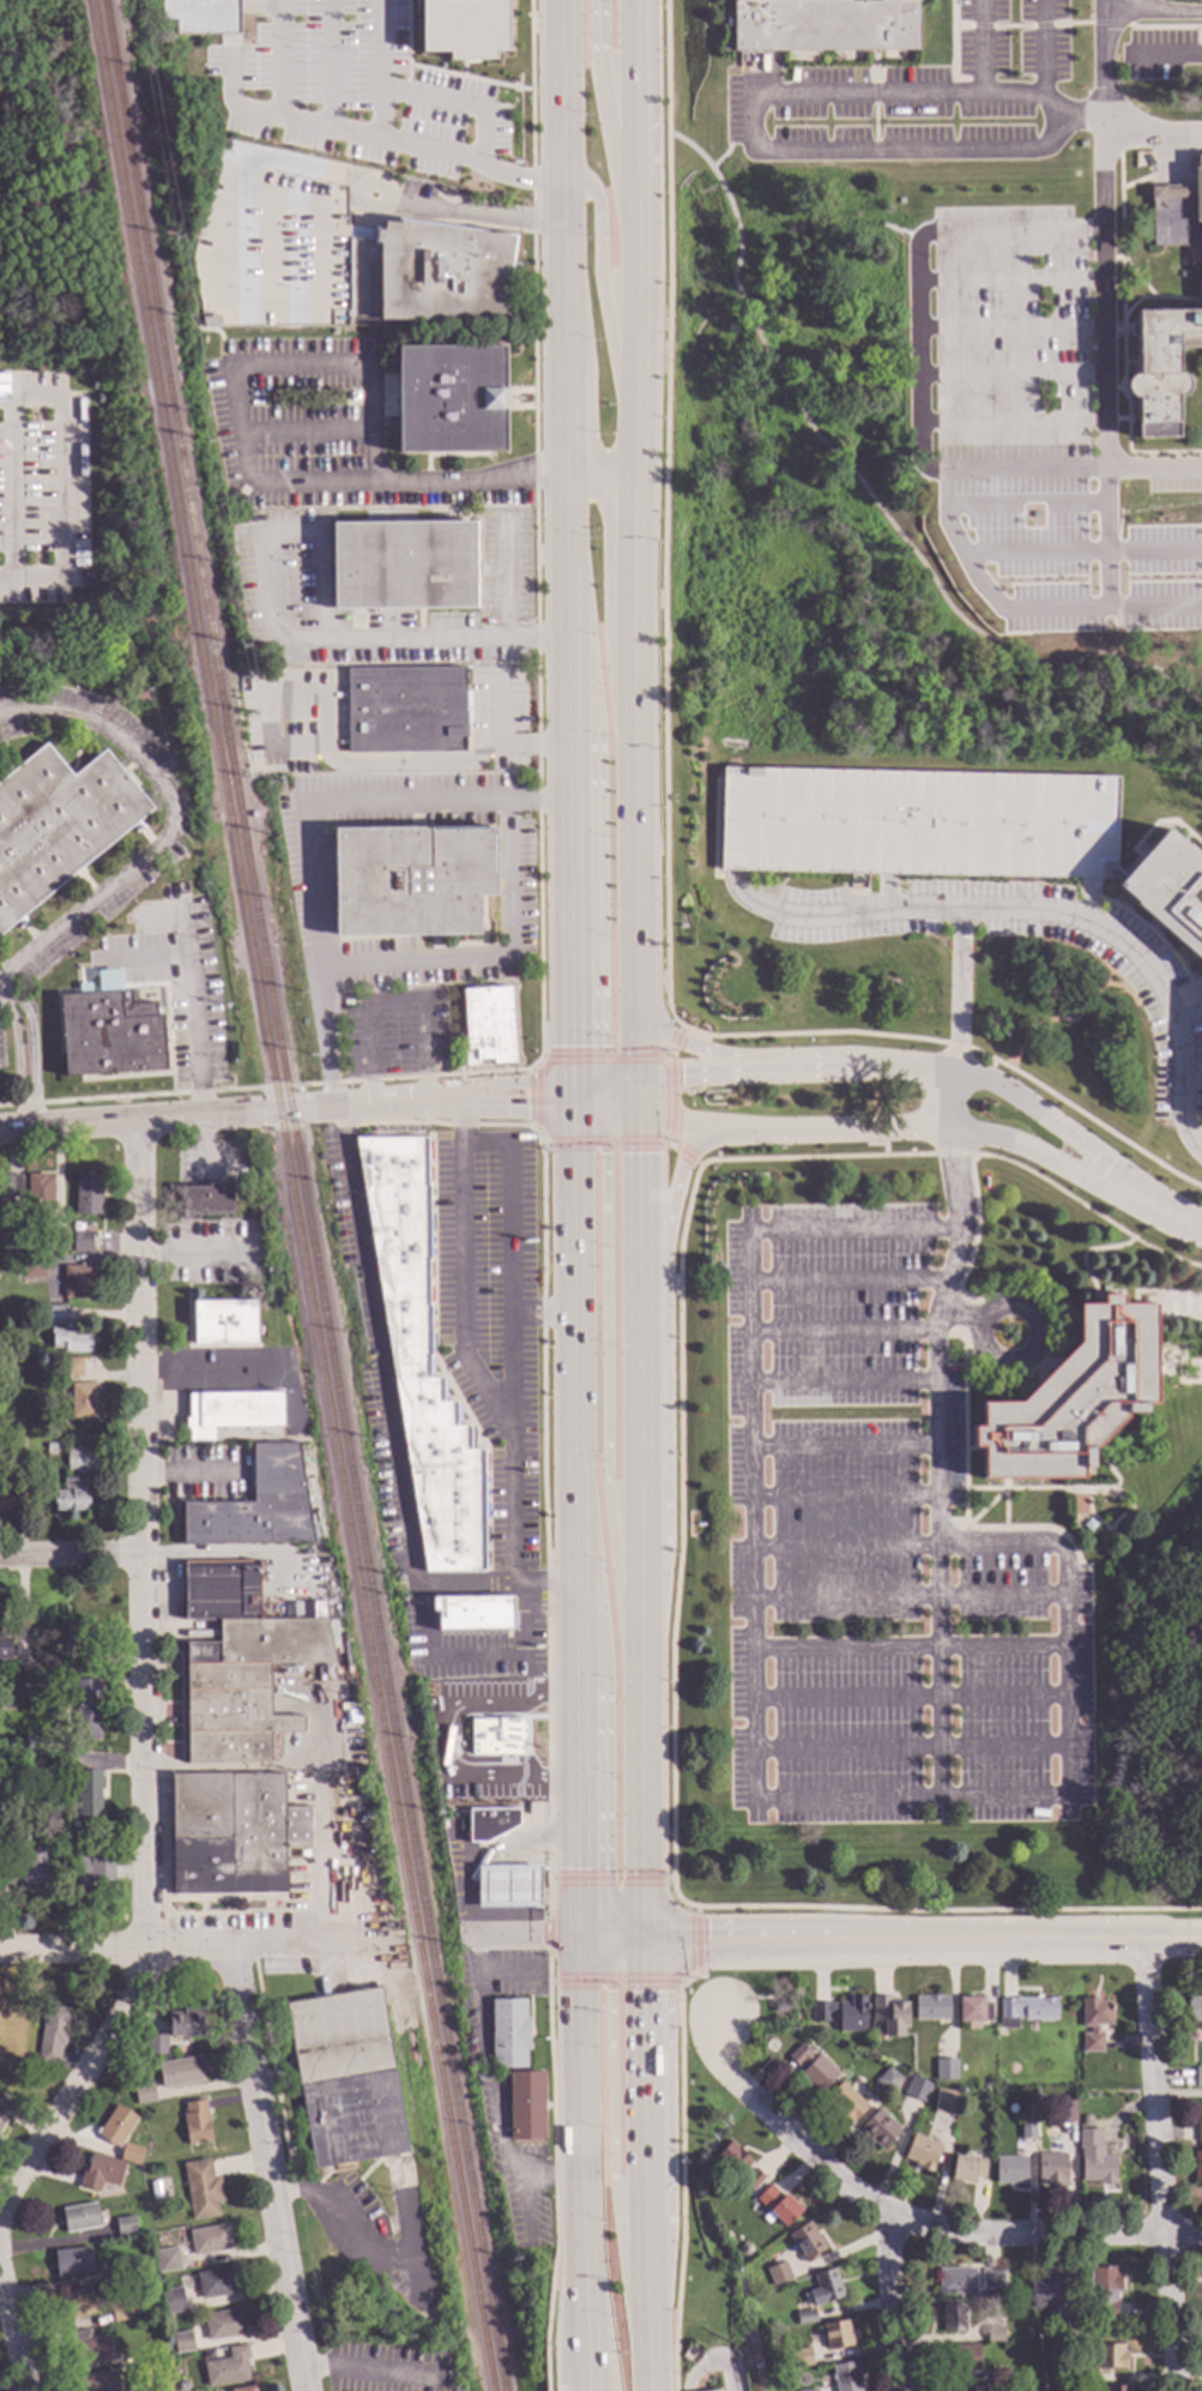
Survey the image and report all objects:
road: (249, 7)
road: (268, 7)
road: (953, 12)
road: (1158, 12)
building: (201, 17)
parking lot: (201, 17)
building: (825, 24)
road: (1070, 24)
road: (1107, 24)
road: (980, 25)
road: (1011, 26)
road: (1041, 26)
road: (1164, 26)
building: (464, 29)
road: (981, 47)
road: (1043, 48)
road: (952, 52)
road: (1172, 55)
road: (328, 64)
road: (875, 67)
road: (379, 70)
road: (560, 90)
parking lot: (352, 91)
road: (875, 94)
road: (229, 102)
road: (457, 104)
road: (1101, 110)
road: (635, 114)
road: (648, 114)
road: (608, 115)
road: (1080, 119)
road: (875, 124)
road: (362, 135)
road: (727, 147)
road: (817, 151)
road: (1177, 161)
road: (1134, 182)
road: (482, 215)
road: (918, 272)
road: (1131, 272)
building: (440, 273)
road: (562, 275)
road: (638, 278)
road: (1009, 279)
road: (600, 289)
road: (1156, 296)
building: (1167, 318)
road: (1122, 327)
road: (1009, 329)
road: (1128, 330)
road: (1103, 343)
road: (833, 344)
road: (1128, 362)
road: (635, 374)
road: (1009, 375)
road: (829, 383)
road: (1111, 387)
building: (447, 402)
parking lot: (1016, 404)
road: (817, 405)
road: (564, 420)
road: (1115, 420)
road: (1010, 422)
street lamp: (1091, 446)
road: (633, 447)
road: (599, 472)
road: (410, 480)
parking lot: (1174, 481)
street lamp: (1092, 489)
road: (66, 490)
road: (869, 495)
street lamp: (934, 507)
road: (666, 516)
road: (943, 522)
road: (534, 529)
street lamp: (1119, 536)
road: (1112, 550)
road: (632, 560)
building: (401, 566)
road: (506, 583)
road: (567, 601)
road: (1127, 607)
street lamp: (1106, 624)
road: (367, 645)
building: (139, 698)
building: (405, 712)
road: (501, 712)
road: (416, 765)
road: (634, 823)
road: (170, 824)
road: (307, 824)
building: (918, 824)
parking lot: (918, 824)
road: (1158, 824)
building: (56, 825)
building: (409, 883)
building: (1168, 890)
road: (569, 905)
road: (1070, 921)
road: (1164, 944)
road: (490, 959)
road: (1119, 983)
road: (1105, 987)
road: (195, 992)
road: (4, 996)
road: (10, 1001)
road: (392, 1002)
road: (1049, 1020)
building: (487, 1028)
building: (108, 1032)
road: (640, 1038)
road: (959, 1047)
traffic signals: (572, 1048)
road: (695, 1050)
road: (605, 1056)
road: (538, 1061)
road: (905, 1068)
road: (813, 1070)
road: (706, 1074)
traffic signals: (681, 1076)
traffic signals: (642, 1078)
road: (606, 1080)
traffic signals: (572, 1083)
road: (503, 1085)
road: (588, 1095)
road: (536, 1097)
road: (572, 1097)
road: (642, 1097)
road: (671, 1103)
road: (505, 1107)
traffic signals: (526, 1108)
traffic signals: (572, 1112)
road: (29, 1113)
road: (585, 1113)
traffic signals: (599, 1114)
road: (621, 1115)
road: (218, 1116)
traffic signals: (642, 1118)
road: (1051, 1121)
road: (684, 1122)
road: (1198, 1125)
road: (836, 1133)
road: (540, 1137)
road: (604, 1145)
road: (884, 1149)
road: (348, 1151)
road: (950, 1154)
traffic signals: (605, 1155)
traffic signals: (642, 1155)
road: (815, 1157)
road: (1043, 1158)
building: (8, 1193)
building: (37, 1194)
building: (85, 1195)
railway: (292, 1195)
railway: (304, 1195)
building: (206, 1201)
road: (1086, 1207)
road: (1166, 1211)
building: (56, 1231)
road: (509, 1241)
building: (80, 1242)
road: (192, 1255)
building: (13, 1260)
building: (31, 1267)
building: (77, 1282)
building: (54, 1315)
building: (222, 1324)
building: (68, 1342)
road: (937, 1353)
building: (418, 1362)
building: (70, 1367)
road: (666, 1373)
road: (478, 1374)
road: (512, 1378)
road: (642, 1378)
road: (383, 1379)
road: (573, 1395)
building: (1071, 1399)
building: (83, 1402)
road: (605, 1408)
building: (238, 1409)
building: (50, 1446)
building: (11, 1453)
building: (77, 1461)
building: (5, 1496)
building: (77, 1500)
building: (253, 1506)
road: (747, 1506)
road: (543, 1531)
road: (73, 1562)
road: (461, 1588)
road: (527, 1596)
road: (527, 1610)
building: (472, 1614)
building: (75, 1634)
building: (5, 1654)
road: (457, 1656)
building: (80, 1664)
building: (237, 1664)
road: (642, 1669)
building: (72, 1672)
road: (1067, 1676)
road: (146, 1684)
building: (19, 1685)
building: (85, 1711)
road: (455, 1735)
building: (499, 1737)
road: (277, 1770)
road: (671, 1794)
building: (87, 1795)
road: (575, 1808)
road: (644, 1819)
building: (489, 1824)
building: (231, 1835)
building: (24, 1867)
building: (91, 1868)
road: (610, 1878)
building: (507, 1887)
road: (546, 1933)
road: (517, 1937)
traffic signals: (576, 1937)
road: (993, 1937)
road: (1172, 1937)
road: (611, 1938)
road: (744, 1938)
traffic signals: (646, 1939)
road: (697, 1940)
road: (188, 1950)
road: (616, 1982)
building: (931, 2007)
building: (780, 2008)
building: (1025, 2010)
building: (972, 2011)
building: (1194, 2011)
building: (841, 2014)
building: (894, 2014)
building: (186, 2023)
building: (1093, 2023)
building: (508, 2035)
building: (50, 2036)
building: (155, 2047)
building: (882, 2048)
building: (813, 2068)
building: (946, 2070)
building: (177, 2073)
building: (1198, 2078)
building: (345, 2079)
building: (887, 2080)
road: (646, 2082)
building: (985, 2088)
building: (917, 2089)
building: (143, 2095)
building: (1028, 2096)
road: (580, 2101)
building: (845, 2102)
building: (944, 2102)
building: (525, 2108)
building: (6, 2110)
building: (1064, 2112)
building: (1087, 2120)
building: (194, 2125)
building: (115, 2127)
building: (878, 2130)
building: (1026, 2130)
road: (611, 2131)
building: (922, 2152)
building: (1197, 2154)
building: (129, 2156)
building: (1094, 2158)
road: (1160, 2163)
building: (738, 2164)
building: (1051, 2168)
building: (967, 2169)
road: (267, 2170)
road: (554, 2170)
building: (1010, 2170)
building: (99, 2174)
road: (681, 2178)
building: (200, 2191)
building: (777, 2206)
building: (79, 2218)
road: (907, 2221)
building: (123, 2227)
building: (207, 2240)
building: (805, 2242)
building: (744, 2248)
building: (165, 2261)
building: (72, 2264)
building: (125, 2269)
building: (778, 2273)
building: (991, 2279)
building: (956, 2281)
building: (216, 2284)
building: (825, 2287)
building: (1105, 2290)
building: (1050, 2291)
building: (171, 2302)
road: (893, 2303)
building: (73, 2306)
road: (646, 2308)
building: (119, 2313)
building: (135, 2315)
building: (805, 2317)
building: (953, 2318)
road: (586, 2319)
building: (222, 2325)
road: (569, 2329)
building: (1027, 2332)
building: (836, 2335)
building: (995, 2335)
road: (12, 2343)
building: (181, 2343)
building: (87, 2349)
building: (163, 2350)
building: (221, 2354)
building: (1110, 2356)
building: (801, 2357)
building: (962, 2357)
road: (715, 2363)
building: (226, 2369)
building: (1059, 2371)
road: (369, 2373)
building: (845, 2377)
building: (999, 2377)
road: (588, 2380)
road: (591, 2380)
building: (99, 2383)
building: (181, 2386)
building: (162, 2387)
building: (972, 2389)
building: (1116, 2389)
building: (247, 2390)
building: (811, 2390)

